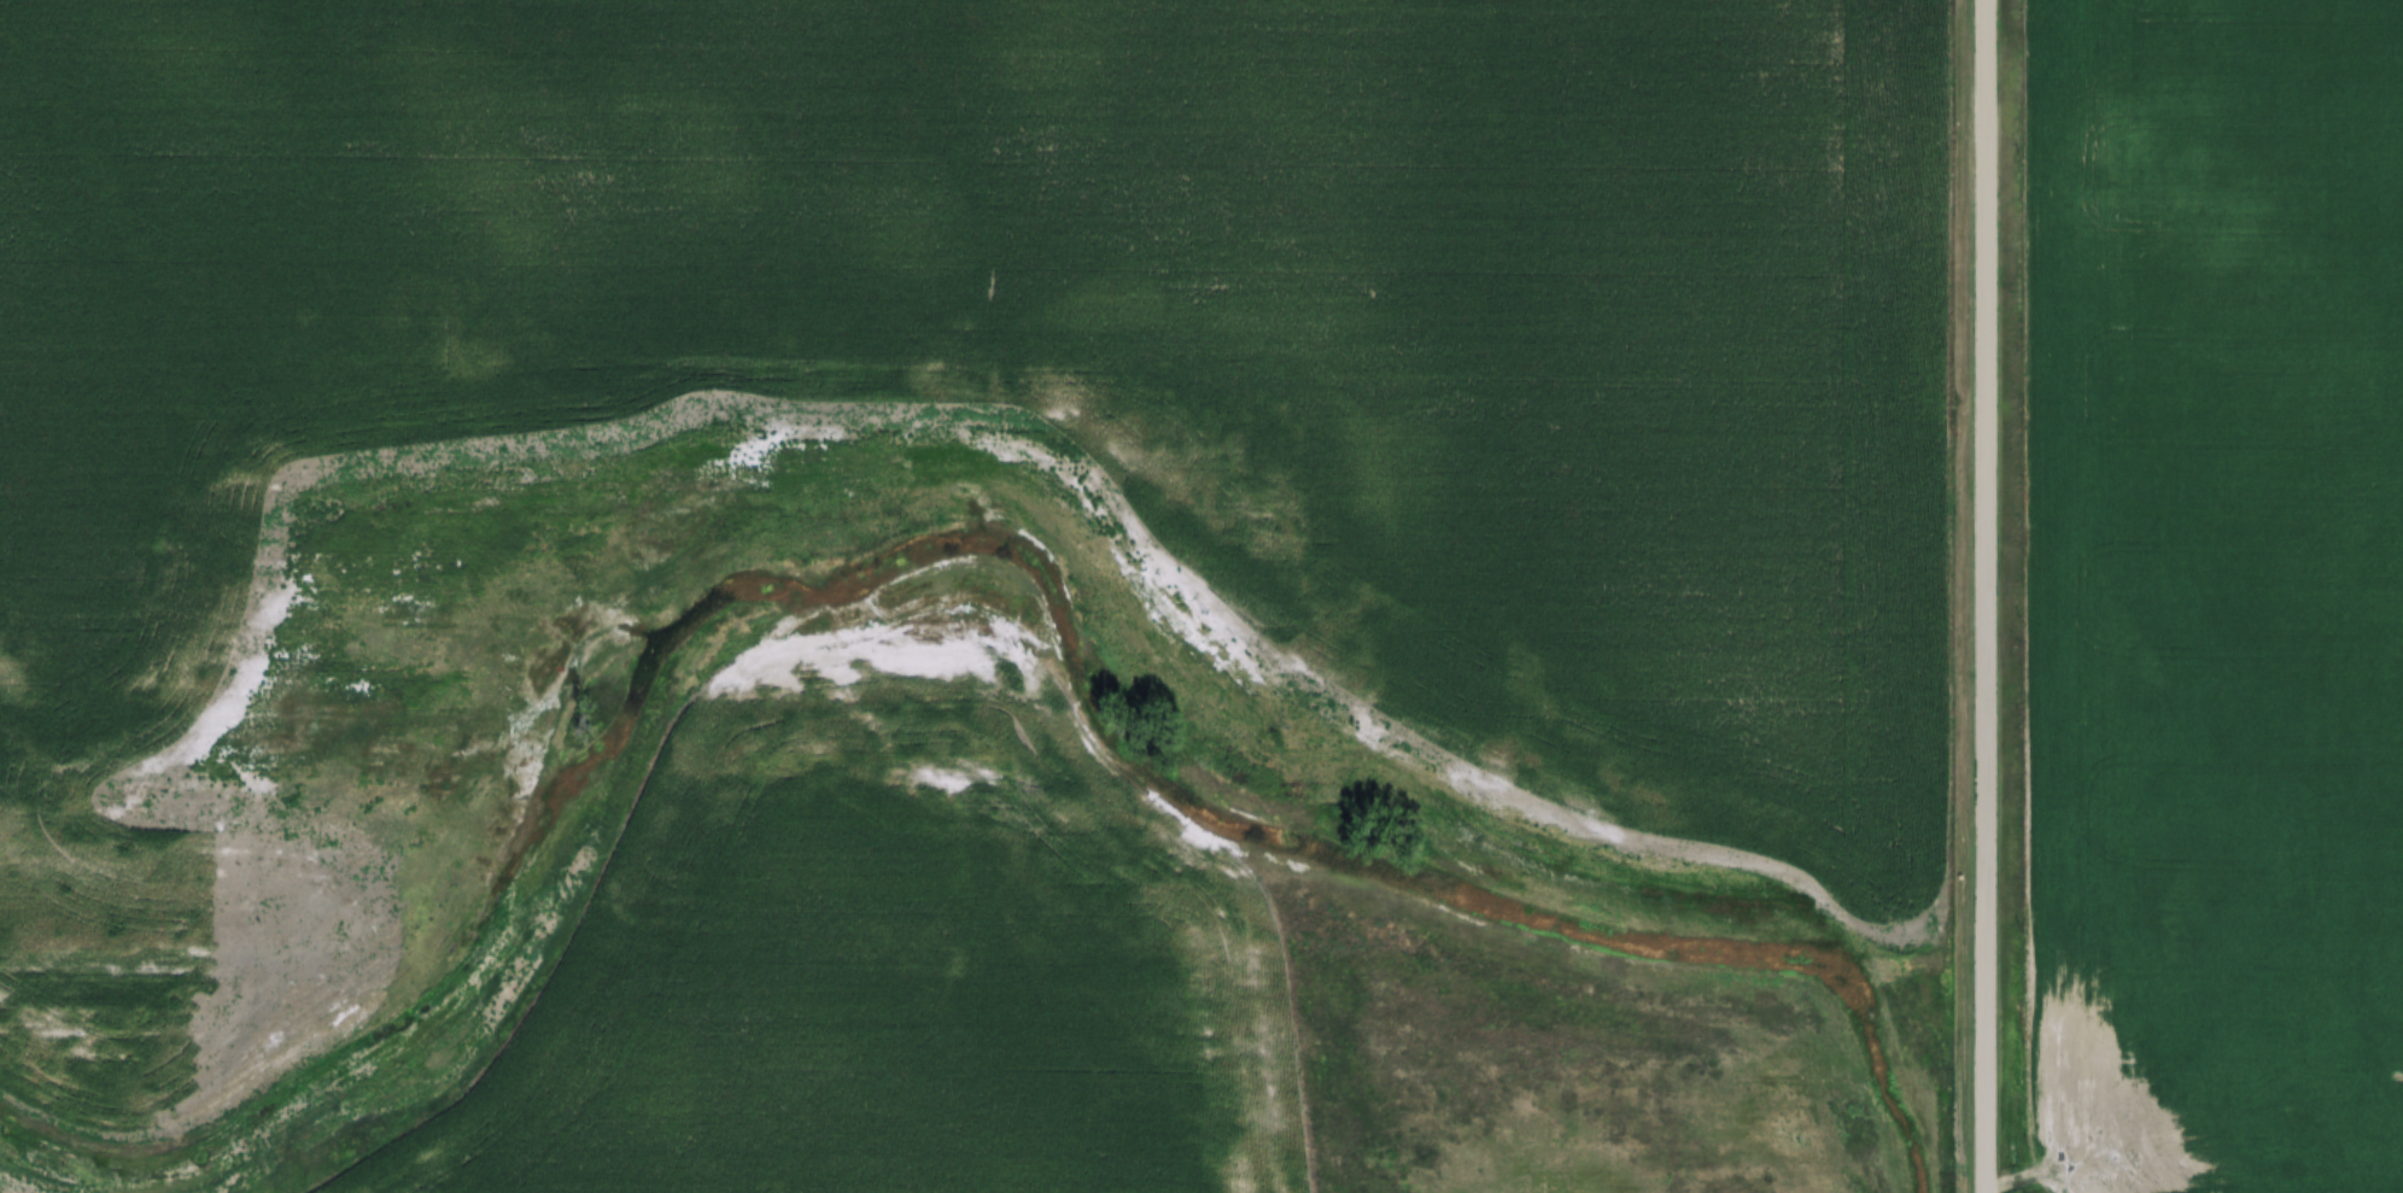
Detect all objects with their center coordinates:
road: (1987, 596)

